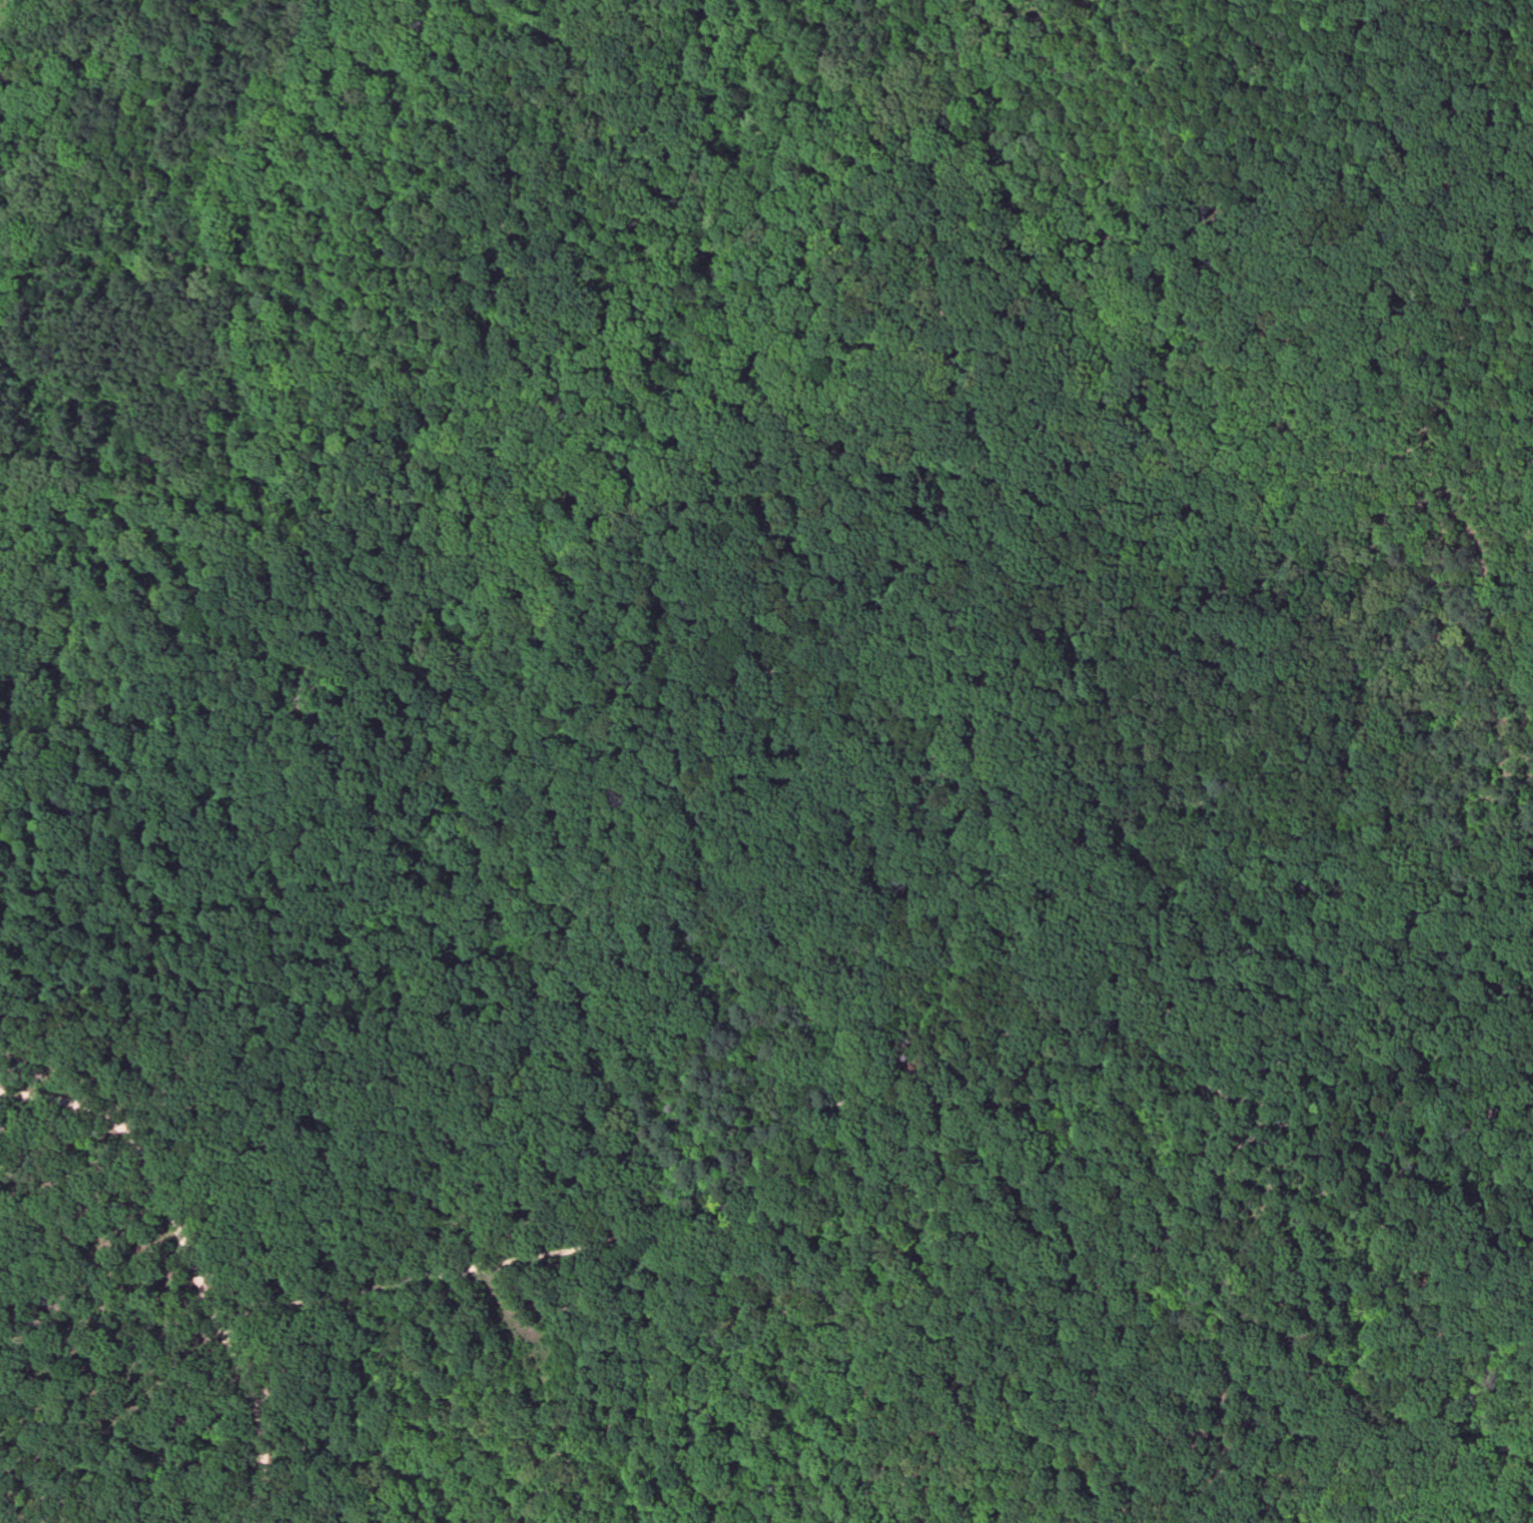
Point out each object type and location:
road: (951, 1034)
road: (187, 1264)
road: (269, 1293)
road: (291, 1341)

